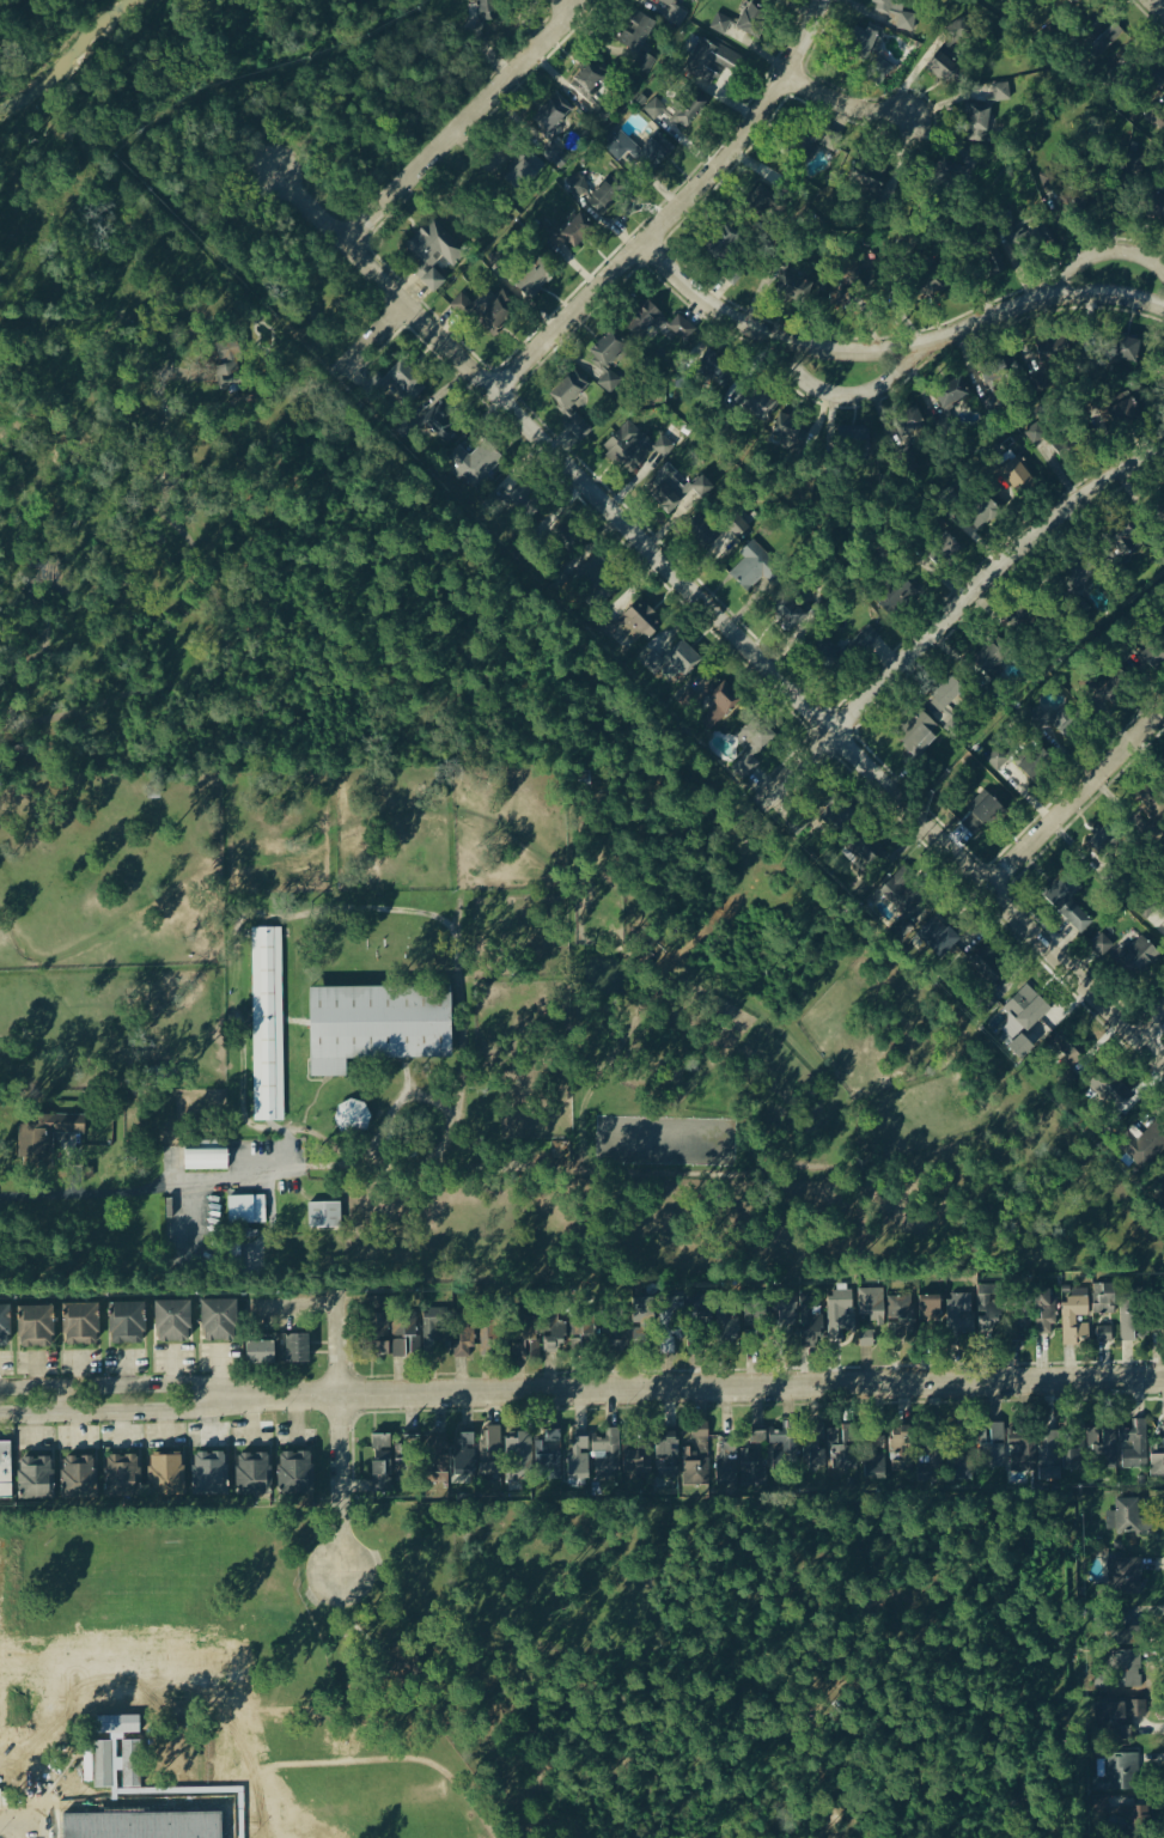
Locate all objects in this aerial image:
building: (668, 2)
building: (886, 4)
road: (1157, 6)
building: (485, 10)
building: (749, 22)
building: (721, 25)
building: (634, 31)
building: (955, 31)
building: (872, 38)
building: (859, 42)
river: (66, 45)
building: (1107, 45)
building: (709, 65)
building: (945, 71)
building: (1148, 77)
building: (587, 80)
road: (847, 89)
building: (675, 110)
building: (598, 116)
building: (546, 118)
road: (465, 121)
building: (638, 150)
building: (517, 168)
building: (579, 185)
building: (864, 185)
building: (602, 199)
road: (674, 206)
building: (757, 207)
building: (1152, 209)
building: (568, 235)
building: (719, 242)
road: (1104, 249)
building: (434, 255)
building: (502, 260)
building: (986, 261)
building: (531, 276)
building: (792, 290)
building: (490, 314)
building: (656, 328)
road: (372, 339)
road: (889, 346)
building: (607, 349)
building: (1054, 349)
building: (1122, 351)
building: (224, 352)
building: (697, 366)
building: (234, 371)
building: (1160, 371)
building: (993, 373)
building: (407, 383)
building: (608, 383)
road: (839, 391)
building: (950, 392)
building: (571, 403)
road: (223, 406)
building: (760, 406)
building: (907, 422)
building: (784, 430)
building: (435, 431)
building: (857, 444)
building: (627, 450)
building: (1069, 454)
building: (475, 464)
building: (1022, 476)
building: (684, 495)
building: (525, 498)
building: (517, 511)
building: (1159, 511)
building: (1119, 532)
building: (712, 534)
building: (941, 547)
building: (751, 568)
building: (1078, 572)
building: (592, 576)
building: (889, 594)
building: (903, 600)
road: (947, 605)
building: (785, 614)
road: (720, 620)
building: (1022, 621)
building: (632, 627)
building: (859, 647)
building: (1153, 655)
building: (823, 657)
building: (989, 659)
building: (679, 662)
building: (1114, 690)
building: (945, 695)
building: (956, 696)
building: (719, 706)
building: (1079, 729)
building: (1060, 730)
building: (754, 736)
building: (918, 736)
building: (1016, 759)
building: (1159, 773)
road: (1074, 801)
building: (1140, 808)
building: (986, 813)
building: (1105, 842)
building: (898, 884)
building: (1066, 903)
building: (1152, 908)
building: (937, 938)
building: (1101, 947)
building: (1134, 958)
building: (1025, 1010)
building: (266, 1025)
building: (376, 1025)
road: (1151, 1025)
crop: (489, 1045)
building: (1059, 1052)
building: (1105, 1095)
building: (351, 1118)
building: (105, 1134)
building: (44, 1138)
building: (1152, 1148)
building: (205, 1157)
building: (1162, 1182)
road: (145, 1183)
building: (245, 1211)
building: (323, 1216)
building: (1102, 1300)
building: (871, 1307)
building: (383, 1310)
building: (993, 1310)
building: (840, 1313)
building: (900, 1313)
building: (1043, 1313)
building: (930, 1316)
building: (1126, 1316)
building: (977, 1319)
building: (1159, 1319)
building: (754, 1320)
building: (218, 1321)
building: (1074, 1321)
building: (171, 1322)
building: (126, 1323)
building: (7, 1325)
building: (806, 1325)
building: (80, 1326)
building: (641, 1326)
building: (35, 1328)
building: (725, 1328)
building: (585, 1332)
building: (435, 1334)
building: (551, 1334)
building: (378, 1335)
building: (404, 1335)
building: (1103, 1335)
building: (463, 1338)
building: (613, 1338)
building: (490, 1340)
building: (526, 1340)
road: (337, 1346)
building: (295, 1350)
building: (258, 1353)
road: (127, 1384)
road: (708, 1387)
road: (128, 1413)
building: (1132, 1438)
building: (785, 1440)
building: (493, 1447)
building: (900, 1447)
building: (932, 1449)
building: (830, 1450)
building: (547, 1451)
building: (1073, 1451)
building: (467, 1453)
building: (593, 1454)
building: (1158, 1454)
building: (1002, 1455)
building: (755, 1456)
building: (695, 1457)
building: (394, 1459)
building: (437, 1459)
building: (666, 1459)
building: (873, 1459)
building: (952, 1463)
building: (726, 1465)
building: (633, 1466)
building: (6, 1473)
building: (209, 1475)
building: (251, 1475)
building: (294, 1475)
building: (164, 1477)
building: (121, 1478)
building: (33, 1479)
building: (77, 1479)
road: (341, 1484)
building: (1125, 1515)
building: (1127, 1575)
building: (1121, 1633)
building: (1126, 1662)
building: (1113, 1724)
road: (358, 1763)
building: (1121, 1773)
road: (25, 1819)
building: (1134, 1820)
building: (105, 1821)

